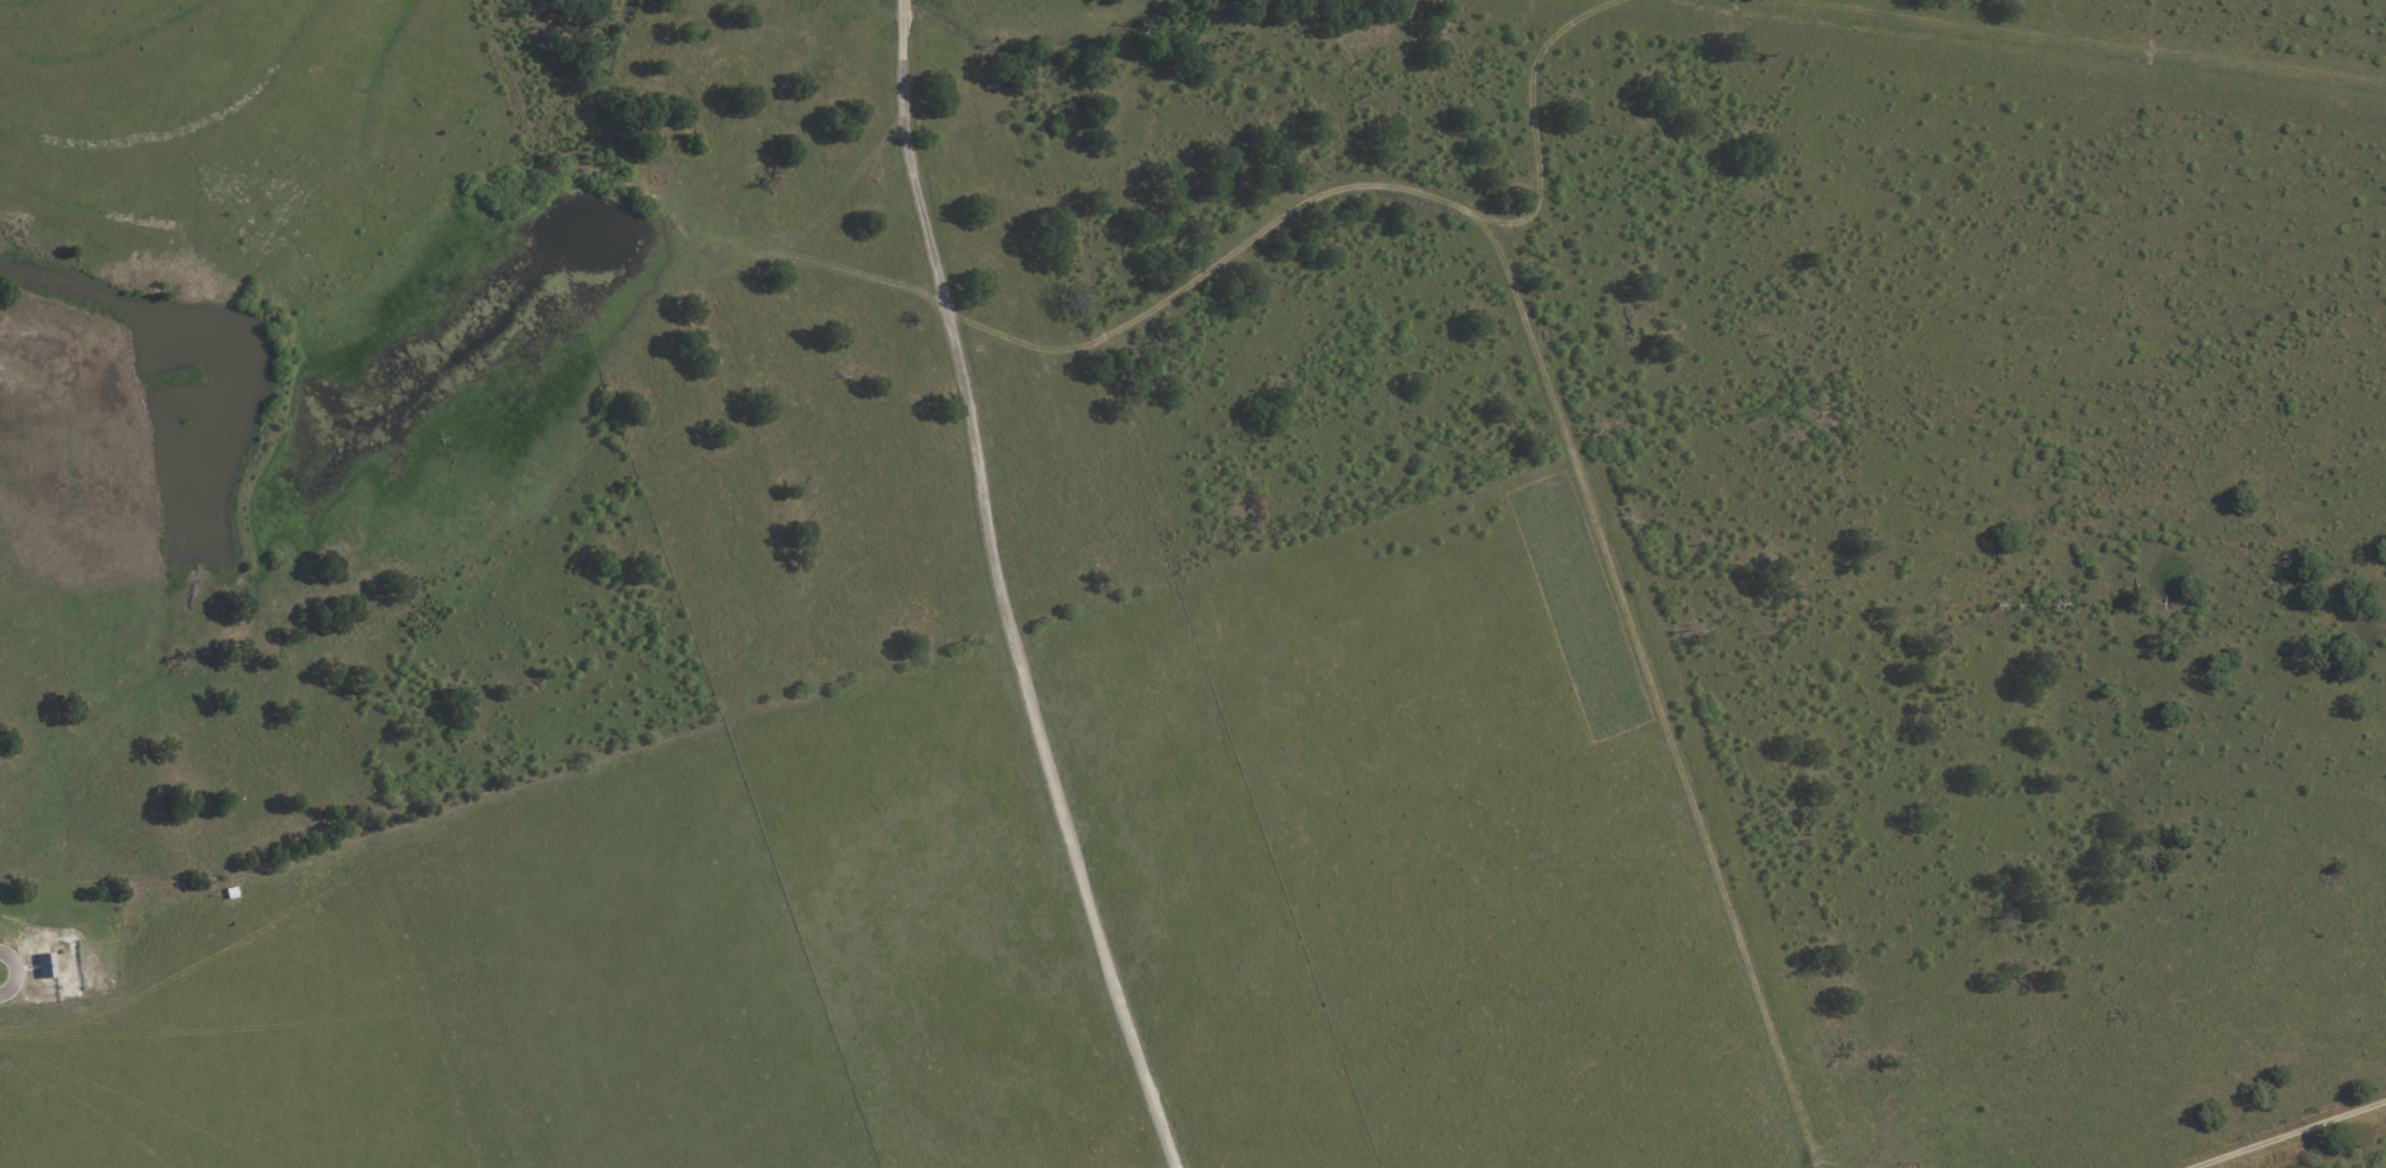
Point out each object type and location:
road: (2133, 205)
road: (1822, 420)
road: (2260, 449)
road: (2129, 470)
road: (1009, 591)
road: (2037, 721)
road: (2266, 1127)

